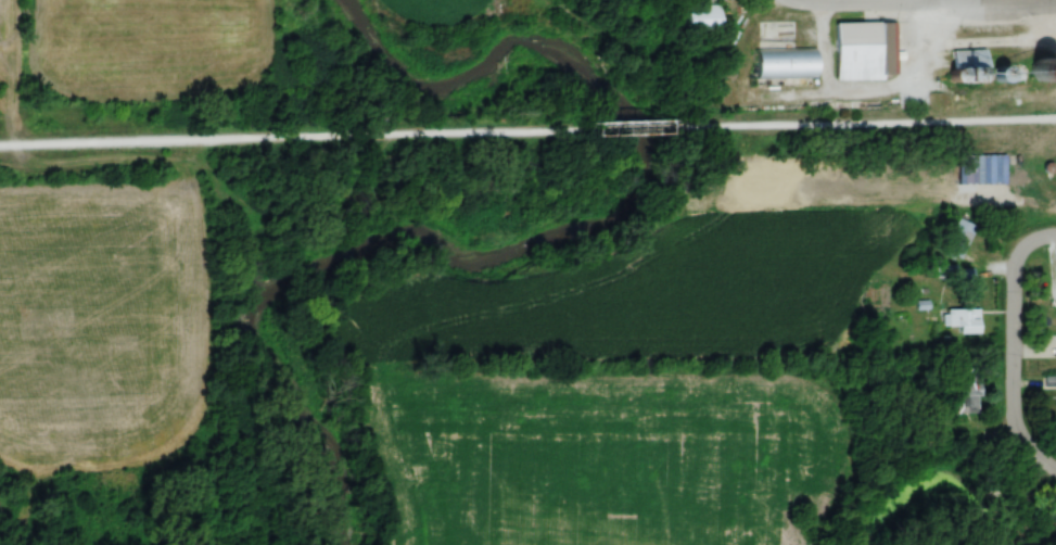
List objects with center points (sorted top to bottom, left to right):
road: (814, 0)
building: (707, 1)
building: (701, 20)
building: (776, 31)
building: (864, 50)
building: (968, 59)
building: (786, 63)
building: (1046, 65)
road: (865, 123)
road: (623, 125)
road: (285, 138)
river: (539, 240)
building: (962, 320)
road: (1010, 348)
building: (967, 396)

